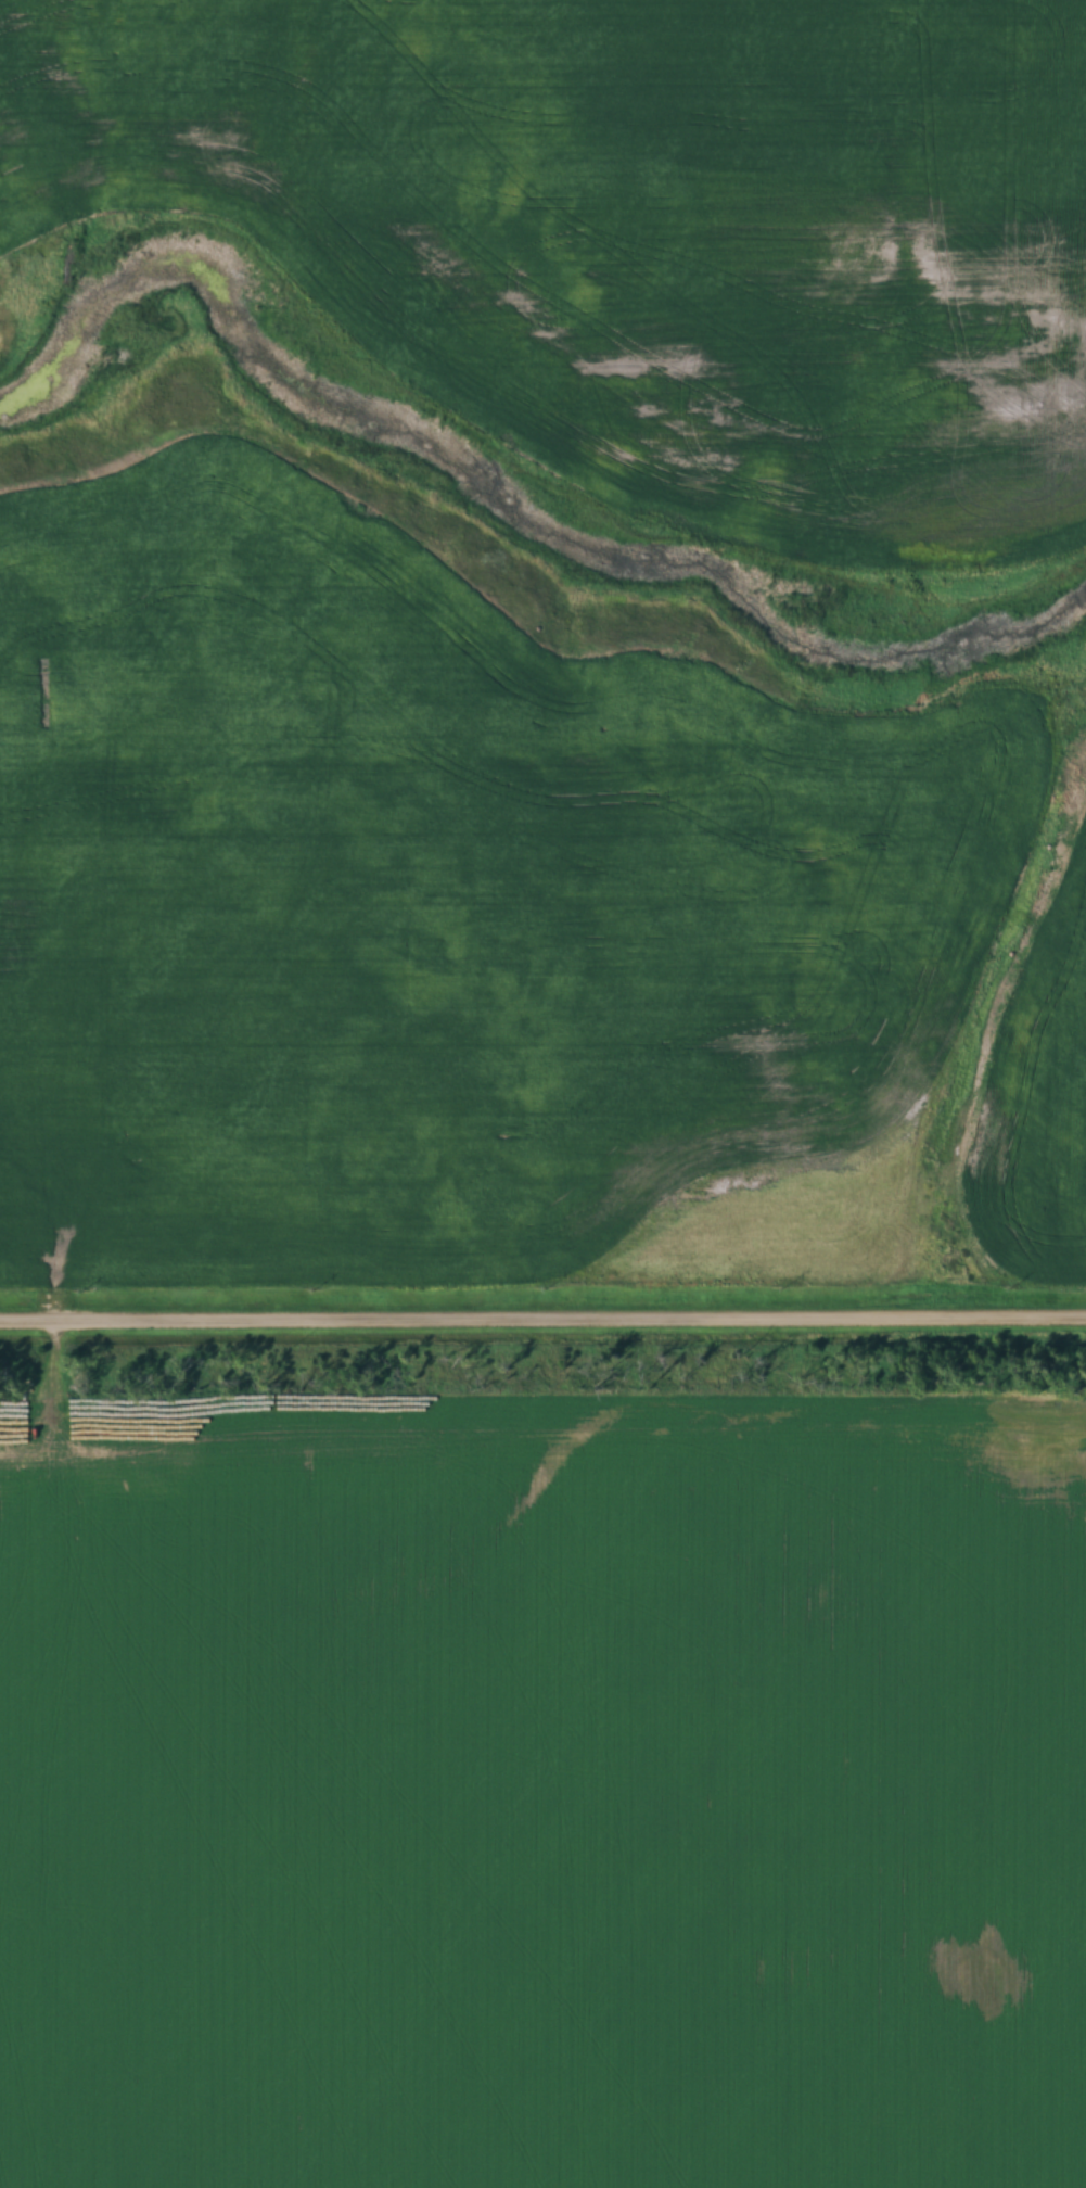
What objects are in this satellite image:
road: (542, 1321)

